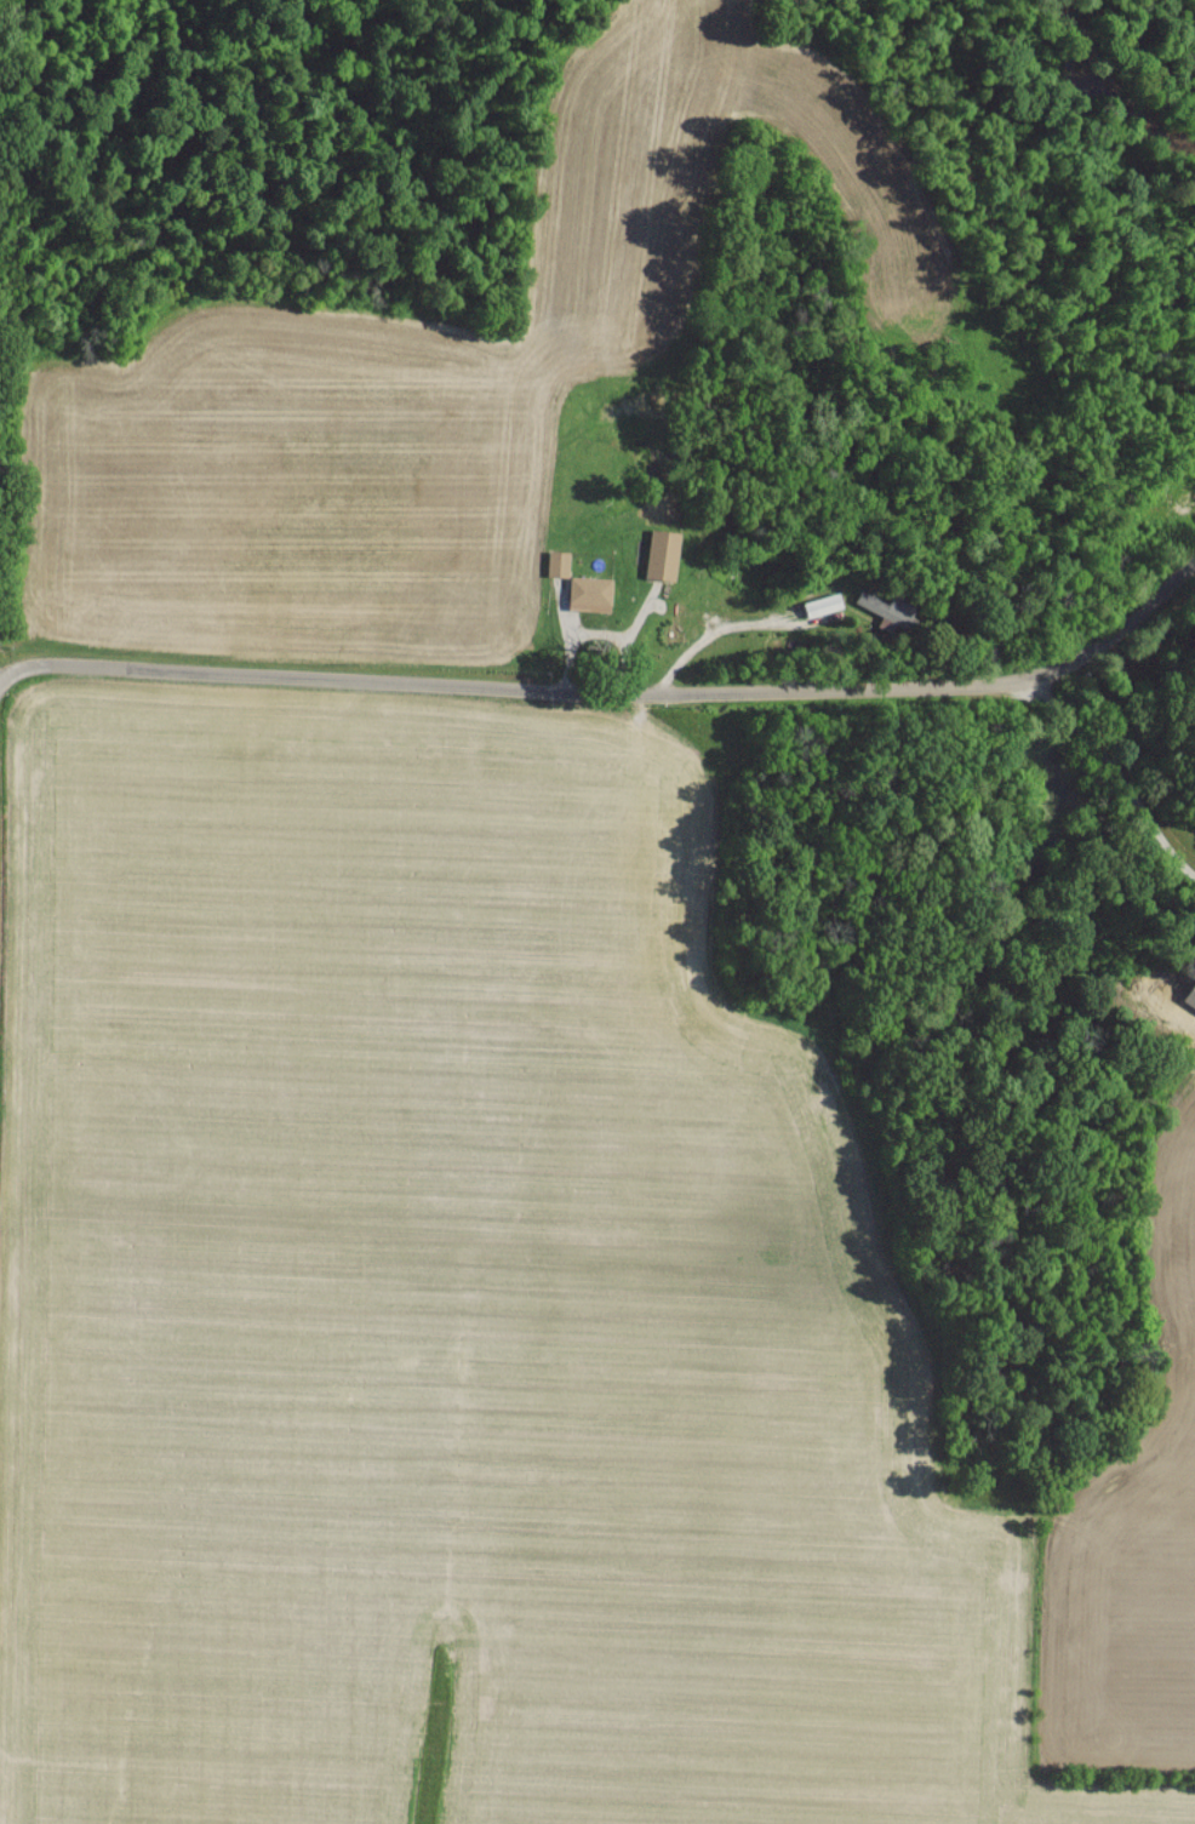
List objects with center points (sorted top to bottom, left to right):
building: (662, 554)
building: (556, 562)
building: (589, 593)
road: (607, 679)
crop: (502, 1325)

